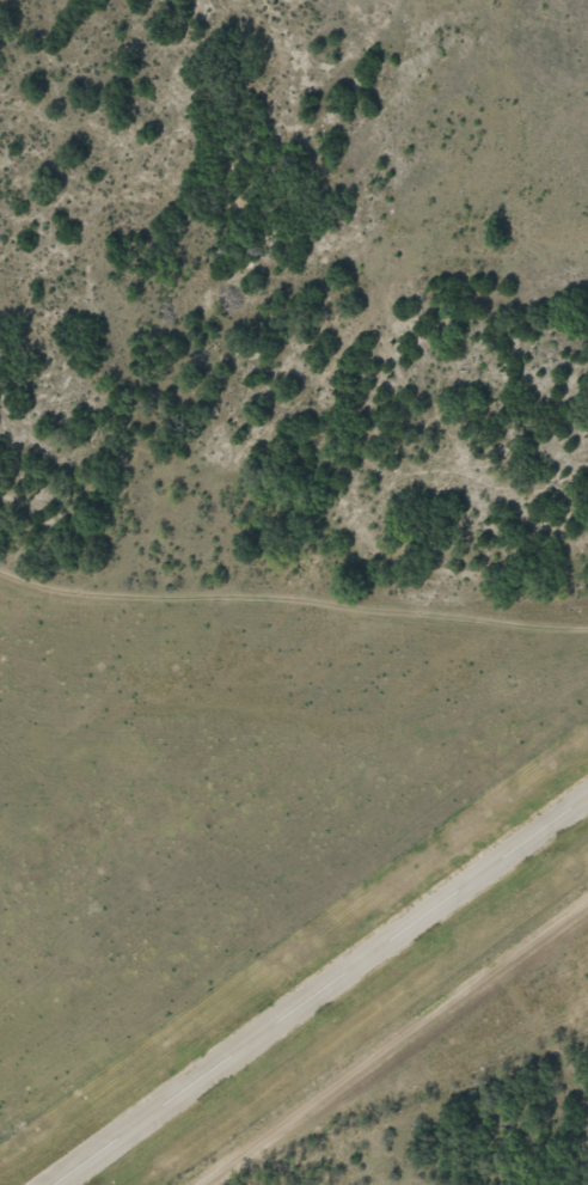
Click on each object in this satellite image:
airport runway: (327, 995)

